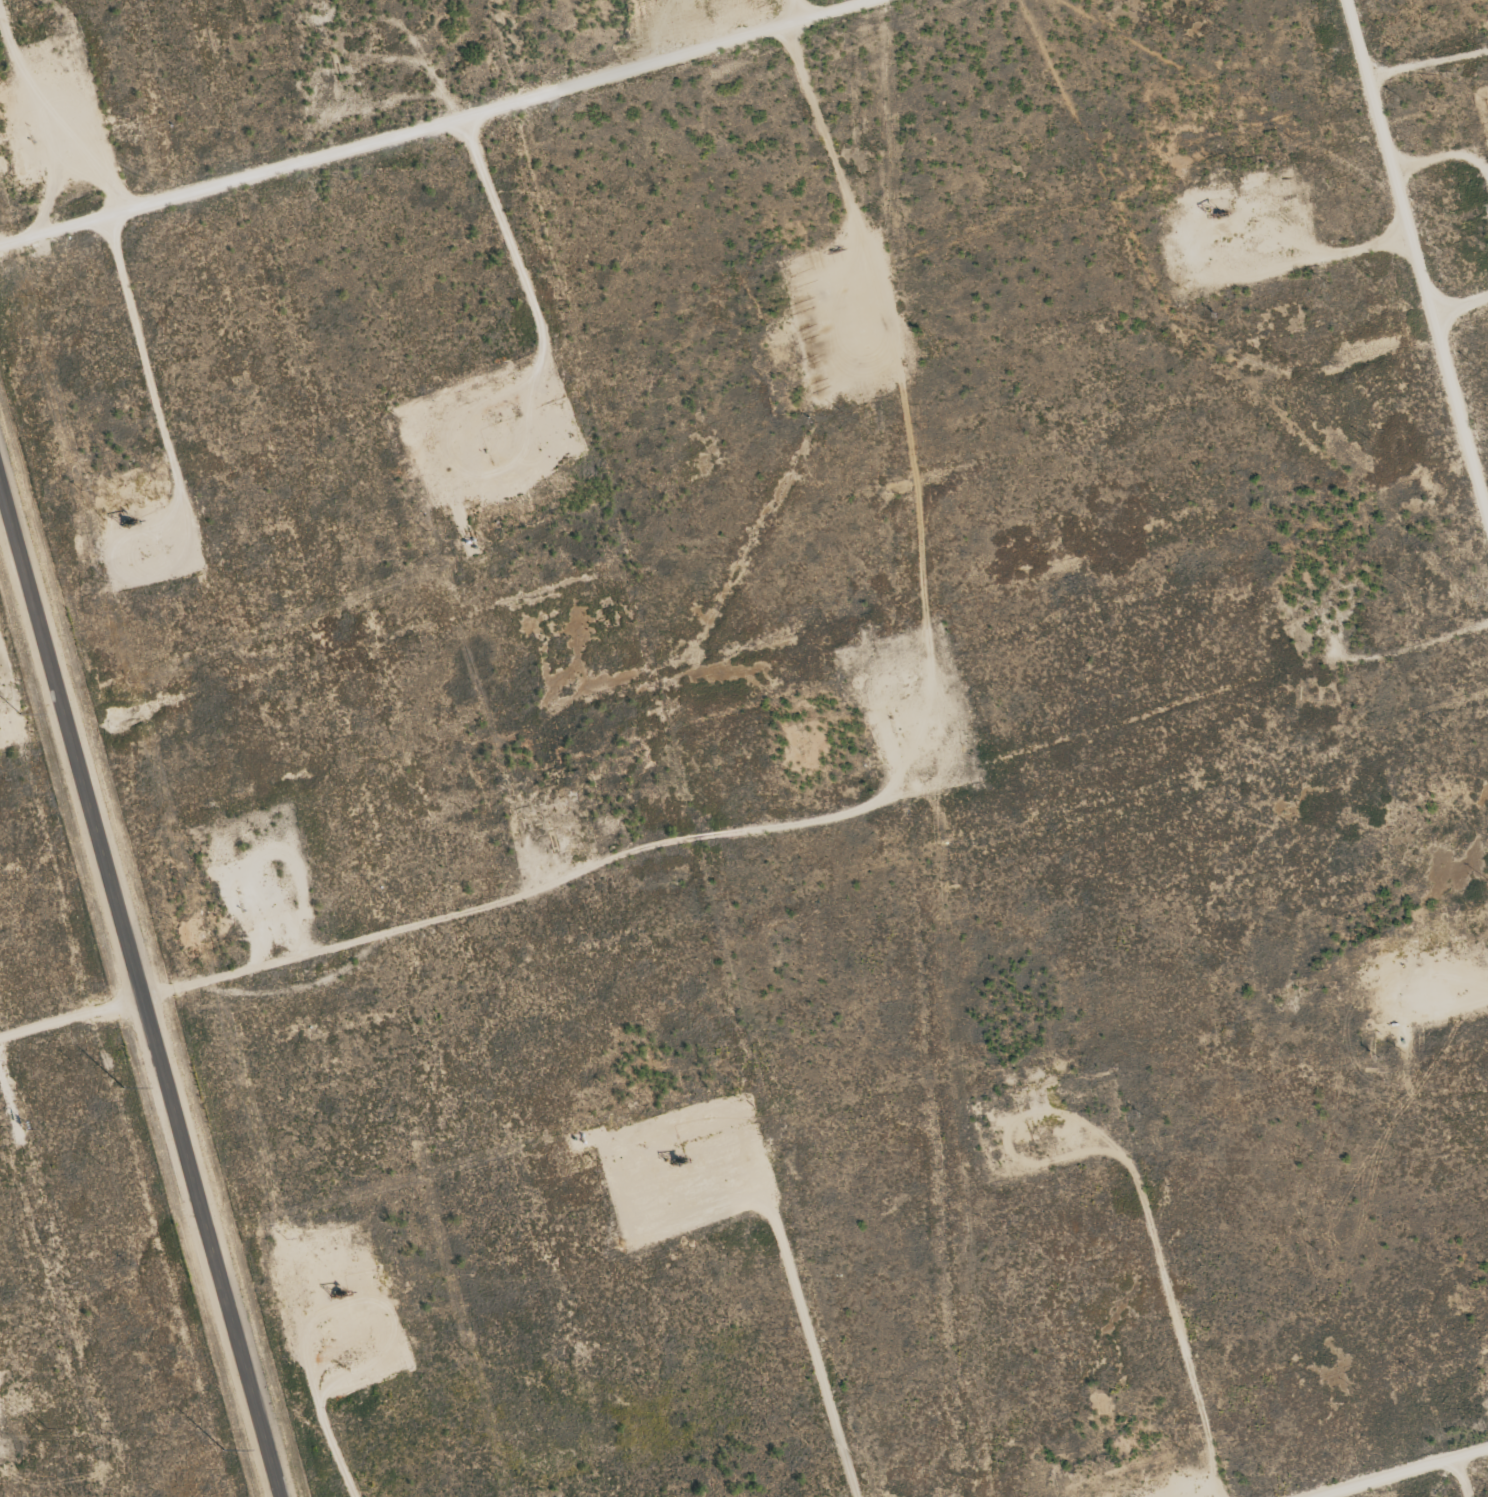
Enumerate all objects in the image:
road: (424, 120)
road: (1419, 260)
road: (1460, 299)
road: (448, 909)
road: (138, 994)
power tower: (41, 1430)
road: (1387, 1468)

